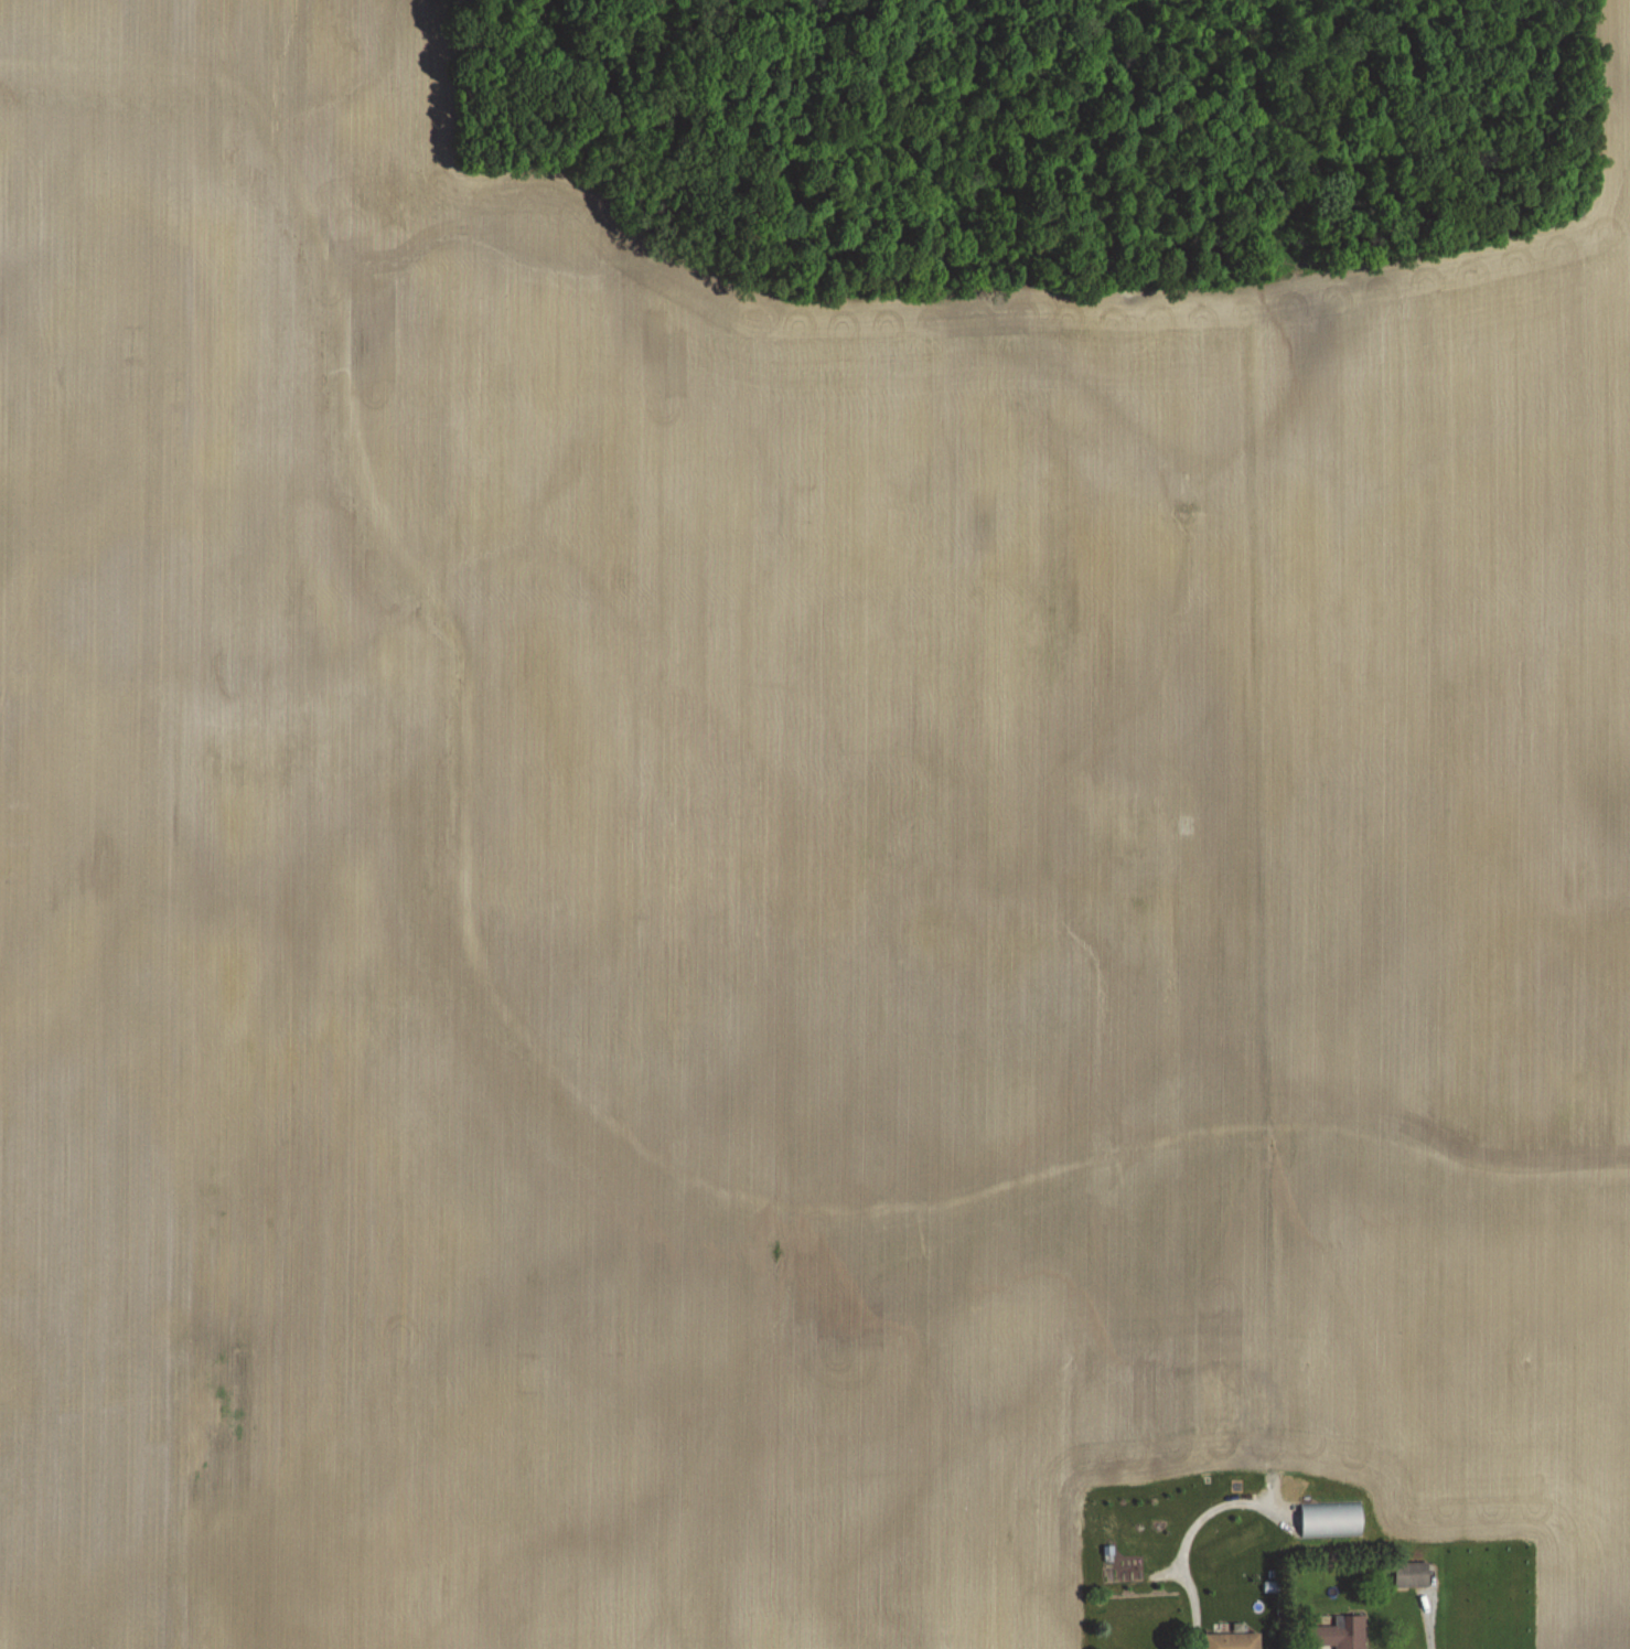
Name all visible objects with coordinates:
building: (1130, 844)
building: (1220, 1411)
building: (1184, 1490)
building: (1331, 1520)
building: (1129, 1533)
road: (1180, 1541)
building: (1412, 1575)
building: (1340, 1634)
building: (1232, 1641)

